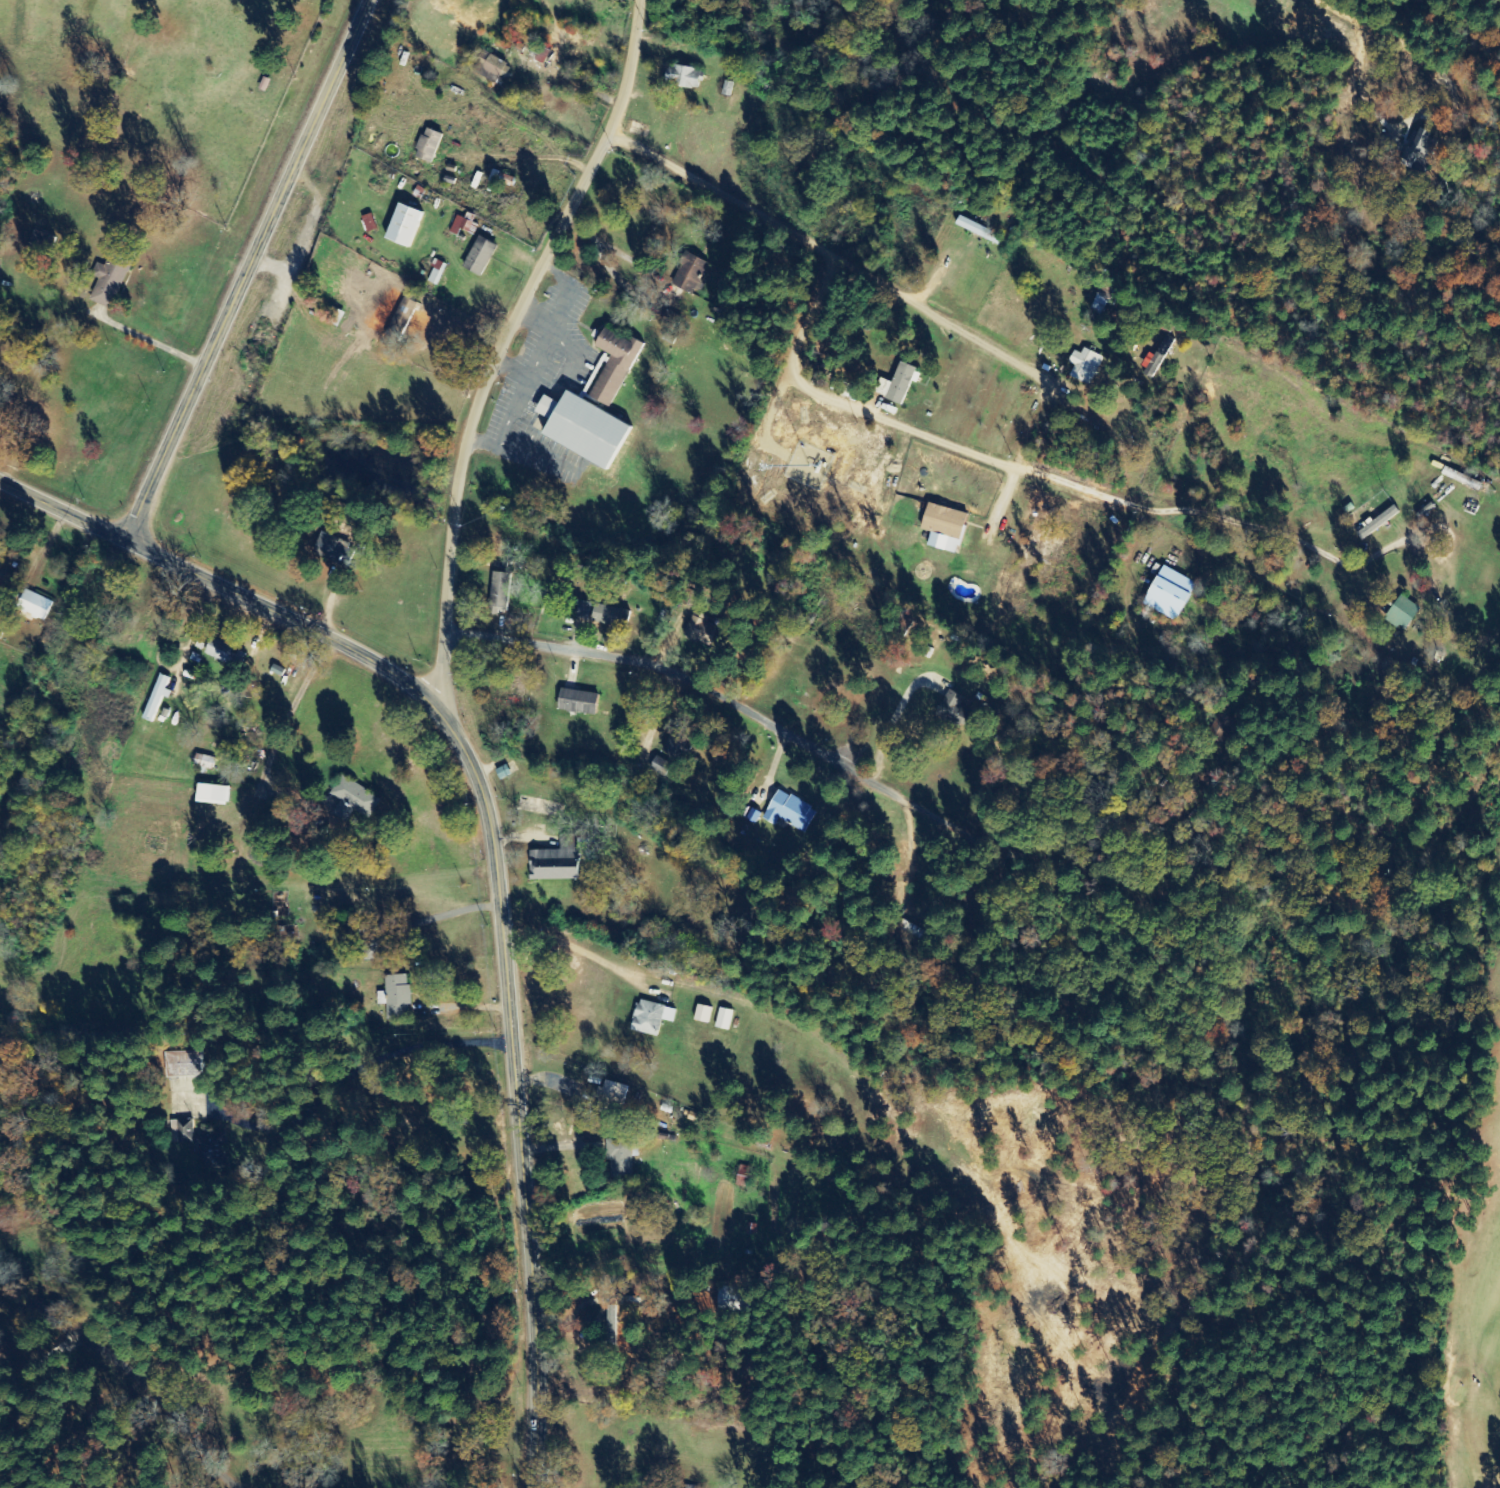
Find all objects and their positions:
building: (533, 51)
building: (490, 67)
building: (680, 78)
building: (426, 147)
building: (1416, 147)
building: (367, 224)
building: (400, 227)
building: (461, 228)
building: (976, 231)
building: (43, 243)
road: (806, 244)
building: (477, 258)
road: (246, 267)
building: (435, 274)
building: (688, 275)
building: (115, 277)
building: (1098, 305)
building: (393, 332)
road: (510, 343)
building: (1156, 357)
building: (611, 366)
building: (1083, 367)
building: (895, 385)
building: (578, 431)
building: (941, 529)
building: (327, 548)
building: (498, 594)
building: (1165, 594)
building: (35, 604)
building: (582, 611)
building: (1401, 614)
building: (607, 617)
building: (698, 630)
building: (218, 651)
road: (658, 677)
building: (156, 698)
building: (574, 703)
building: (202, 766)
building: (208, 795)
building: (351, 801)
building: (787, 813)
road: (493, 844)
building: (558, 859)
building: (373, 944)
building: (396, 999)
building: (700, 1015)
building: (649, 1019)
building: (722, 1020)
building: (181, 1065)
building: (612, 1094)
road: (388, 1136)
building: (189, 1139)
building: (621, 1158)
building: (741, 1177)
park: (1458, 1224)
road: (383, 1258)
road: (123, 1383)

